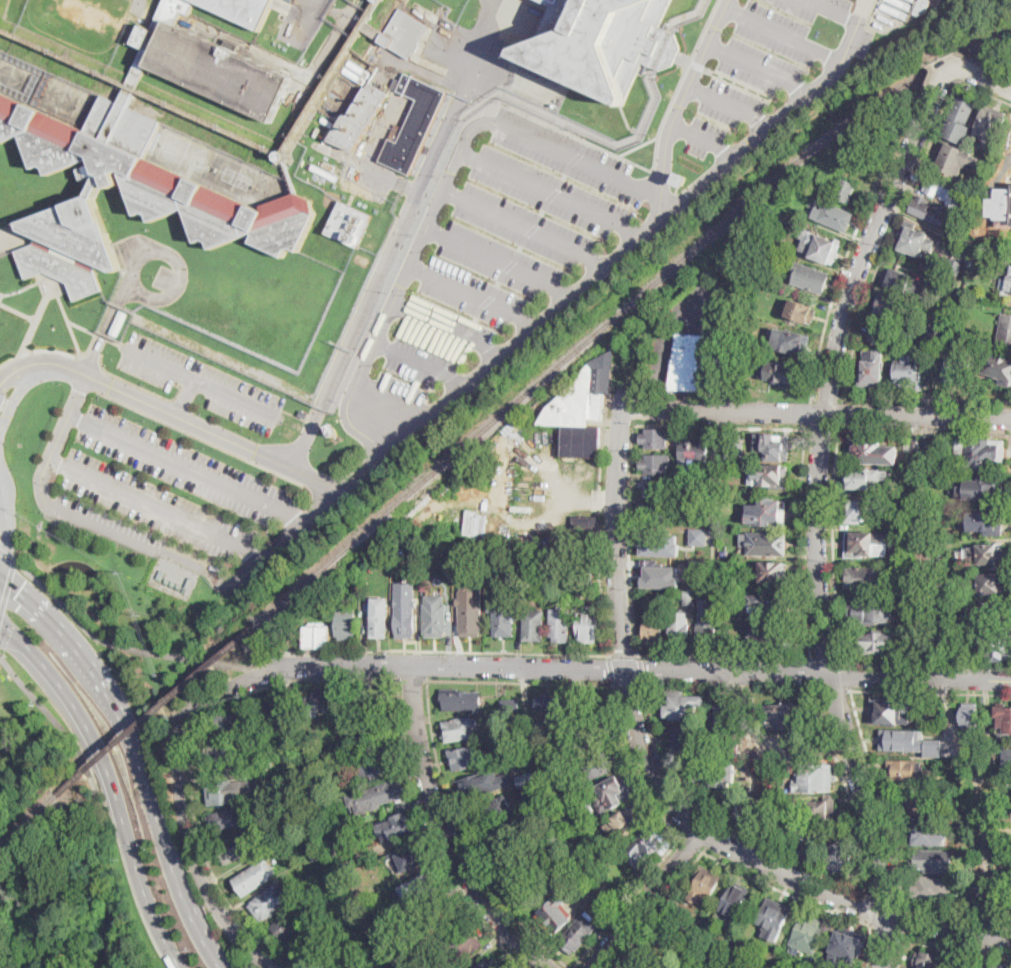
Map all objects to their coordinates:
building: (379, 1)
building: (921, 5)
building: (243, 10)
road: (833, 11)
building: (401, 33)
road: (784, 33)
building: (605, 41)
road: (972, 57)
parking lot: (764, 67)
building: (374, 68)
road: (761, 68)
road: (966, 68)
road: (999, 68)
road: (943, 76)
road: (996, 82)
road: (732, 105)
building: (361, 116)
building: (959, 120)
building: (328, 121)
road: (774, 123)
building: (415, 124)
building: (991, 126)
road: (706, 138)
building: (88, 149)
building: (282, 155)
building: (952, 158)
building: (309, 164)
building: (825, 174)
building: (682, 177)
building: (938, 187)
building: (844, 190)
road: (552, 192)
building: (804, 196)
road: (439, 200)
building: (1003, 207)
building: (929, 210)
road: (901, 211)
building: (834, 216)
building: (349, 224)
road: (525, 227)
building: (914, 240)
road: (853, 243)
building: (820, 246)
building: (1003, 251)
parking lot: (505, 253)
road: (499, 261)
building: (928, 266)
building: (955, 266)
building: (765, 275)
building: (811, 278)
building: (900, 280)
building: (1009, 281)
road: (474, 293)
building: (1005, 293)
building: (991, 301)
building: (892, 306)
railway: (622, 311)
building: (799, 311)
building: (926, 319)
building: (119, 322)
road: (448, 328)
building: (1005, 330)
building: (986, 331)
building: (934, 333)
building: (878, 335)
building: (792, 341)
road: (421, 363)
building: (700, 363)
building: (999, 368)
building: (958, 369)
road: (178, 370)
building: (871, 372)
road: (656, 373)
building: (909, 373)
building: (783, 374)
road: (22, 386)
building: (737, 386)
road: (829, 397)
road: (928, 399)
road: (445, 400)
building: (3, 401)
road: (251, 403)
building: (582, 409)
road: (810, 414)
road: (816, 415)
road: (842, 417)
road: (720, 426)
building: (509, 427)
building: (335, 429)
road: (821, 429)
road: (923, 431)
road: (303, 438)
building: (656, 438)
building: (931, 445)
building: (773, 446)
building: (914, 450)
road: (924, 450)
building: (875, 451)
building: (735, 452)
building: (692, 453)
building: (982, 453)
building: (655, 464)
parking lot: (186, 465)
road: (187, 467)
building: (769, 476)
building: (861, 478)
building: (657, 488)
building: (725, 488)
building: (979, 488)
road: (157, 507)
building: (862, 511)
building: (768, 513)
building: (655, 514)
road: (816, 521)
building: (987, 521)
building: (481, 525)
building: (893, 525)
building: (491, 532)
building: (586, 532)
building: (698, 535)
road: (600, 538)
road: (628, 539)
building: (659, 542)
road: (715, 542)
building: (767, 543)
building: (865, 544)
road: (143, 546)
road: (801, 546)
road: (834, 546)
building: (936, 550)
road: (7, 554)
building: (988, 556)
building: (460, 558)
building: (698, 566)
building: (727, 567)
building: (771, 571)
building: (659, 574)
building: (579, 575)
building: (868, 579)
building: (394, 580)
building: (990, 584)
road: (6, 586)
building: (904, 587)
traffic signals: (21, 589)
building: (689, 597)
building: (769, 603)
building: (867, 612)
building: (988, 614)
building: (379, 616)
building: (503, 617)
building: (404, 620)
building: (435, 620)
building: (470, 620)
building: (704, 623)
building: (345, 624)
building: (560, 625)
building: (533, 626)
building: (588, 627)
building: (653, 628)
building: (680, 629)
building: (735, 630)
building: (316, 637)
building: (946, 637)
building: (775, 639)
building: (876, 642)
building: (996, 645)
road: (126, 646)
road: (427, 649)
road: (624, 655)
road: (727, 658)
road: (830, 661)
road: (927, 664)
road: (612, 669)
road: (640, 670)
road: (642, 670)
road: (846, 674)
road: (815, 675)
road: (413, 678)
road: (521, 681)
road: (630, 685)
road: (735, 688)
road: (835, 689)
road: (223, 691)
road: (928, 691)
building: (372, 694)
building: (461, 700)
building: (747, 701)
building: (508, 703)
building: (319, 704)
building: (683, 705)
building: (552, 707)
railway: (158, 711)
building: (891, 712)
building: (721, 715)
building: (970, 715)
building: (277, 716)
building: (788, 717)
building: (1003, 719)
building: (228, 726)
building: (376, 729)
building: (460, 729)
building: (254, 733)
building: (500, 733)
building: (590, 734)
building: (689, 739)
building: (976, 740)
building: (270, 746)
building: (933, 746)
building: (985, 749)
building: (730, 750)
building: (225, 752)
road: (139, 753)
building: (465, 756)
building: (1006, 756)
road: (193, 757)
building: (381, 761)
building: (267, 763)
building: (601, 765)
road: (633, 768)
building: (765, 768)
building: (329, 770)
road: (752, 770)
building: (910, 771)
building: (715, 772)
building: (814, 778)
road: (111, 781)
road: (659, 781)
building: (483, 783)
building: (300, 786)
road: (848, 789)
building: (222, 793)
building: (385, 793)
building: (613, 794)
road: (881, 795)
building: (747, 796)
building: (787, 798)
building: (543, 799)
road: (555, 801)
building: (910, 802)
road: (95, 804)
building: (254, 804)
building: (821, 810)
building: (490, 812)
building: (996, 813)
building: (742, 817)
building: (969, 819)
railway: (29, 820)
building: (224, 820)
building: (291, 822)
road: (336, 824)
building: (626, 824)
building: (397, 826)
road: (693, 826)
road: (720, 827)
building: (783, 827)
road: (445, 830)
building: (829, 830)
building: (924, 833)
building: (298, 834)
road: (430, 835)
building: (552, 838)
road: (466, 839)
park: (51, 843)
building: (803, 843)
road: (693, 844)
building: (500, 845)
building: (649, 846)
building: (236, 848)
building: (970, 852)
building: (1001, 852)
building: (318, 853)
road: (985, 853)
building: (841, 856)
road: (192, 857)
building: (408, 858)
building: (929, 860)
building: (516, 868)
building: (255, 878)
building: (705, 885)
building: (932, 887)
building: (420, 889)
building: (981, 890)
building: (536, 892)
road: (785, 893)
building: (606, 895)
road: (646, 899)
road: (886, 900)
building: (269, 901)
building: (325, 902)
road: (629, 902)
building: (736, 902)
building: (974, 908)
road: (655, 909)
road: (873, 910)
building: (555, 915)
road: (955, 916)
building: (774, 919)
road: (902, 920)
building: (287, 923)
building: (444, 923)
building: (387, 926)
road: (887, 928)
building: (809, 933)
building: (579, 934)
building: (697, 937)
building: (663, 938)
building: (399, 939)
road: (683, 940)
road: (938, 942)
building: (312, 943)
building: (463, 946)
road: (871, 946)
building: (847, 947)
building: (687, 956)
building: (929, 960)
building: (629, 962)
building: (342, 963)
building: (490, 964)
building: (1002, 966)
building: (707, 967)
building: (762, 967)

